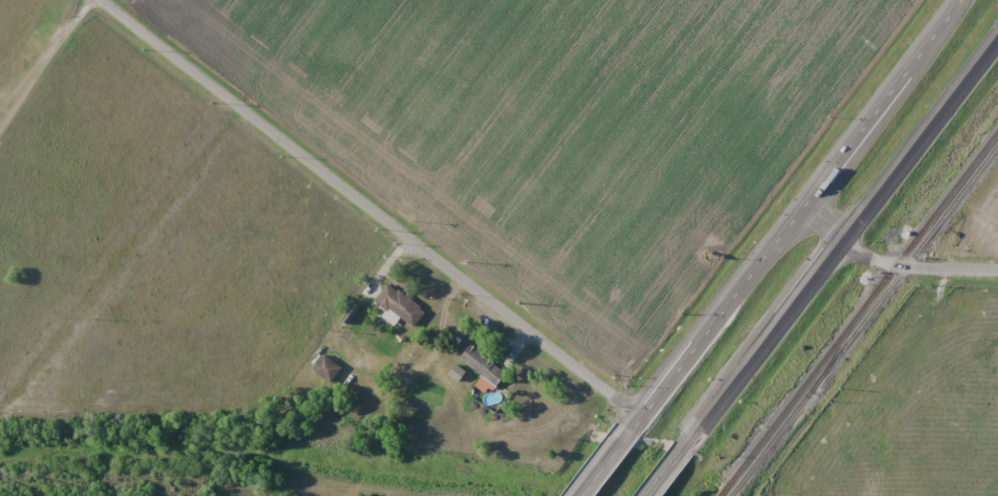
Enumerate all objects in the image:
road: (887, 105)
road: (921, 140)
road: (391, 228)
road: (895, 263)
building: (398, 306)
railway: (858, 312)
railway: (864, 320)
railway: (839, 346)
road: (695, 351)
building: (483, 365)
road: (750, 369)

